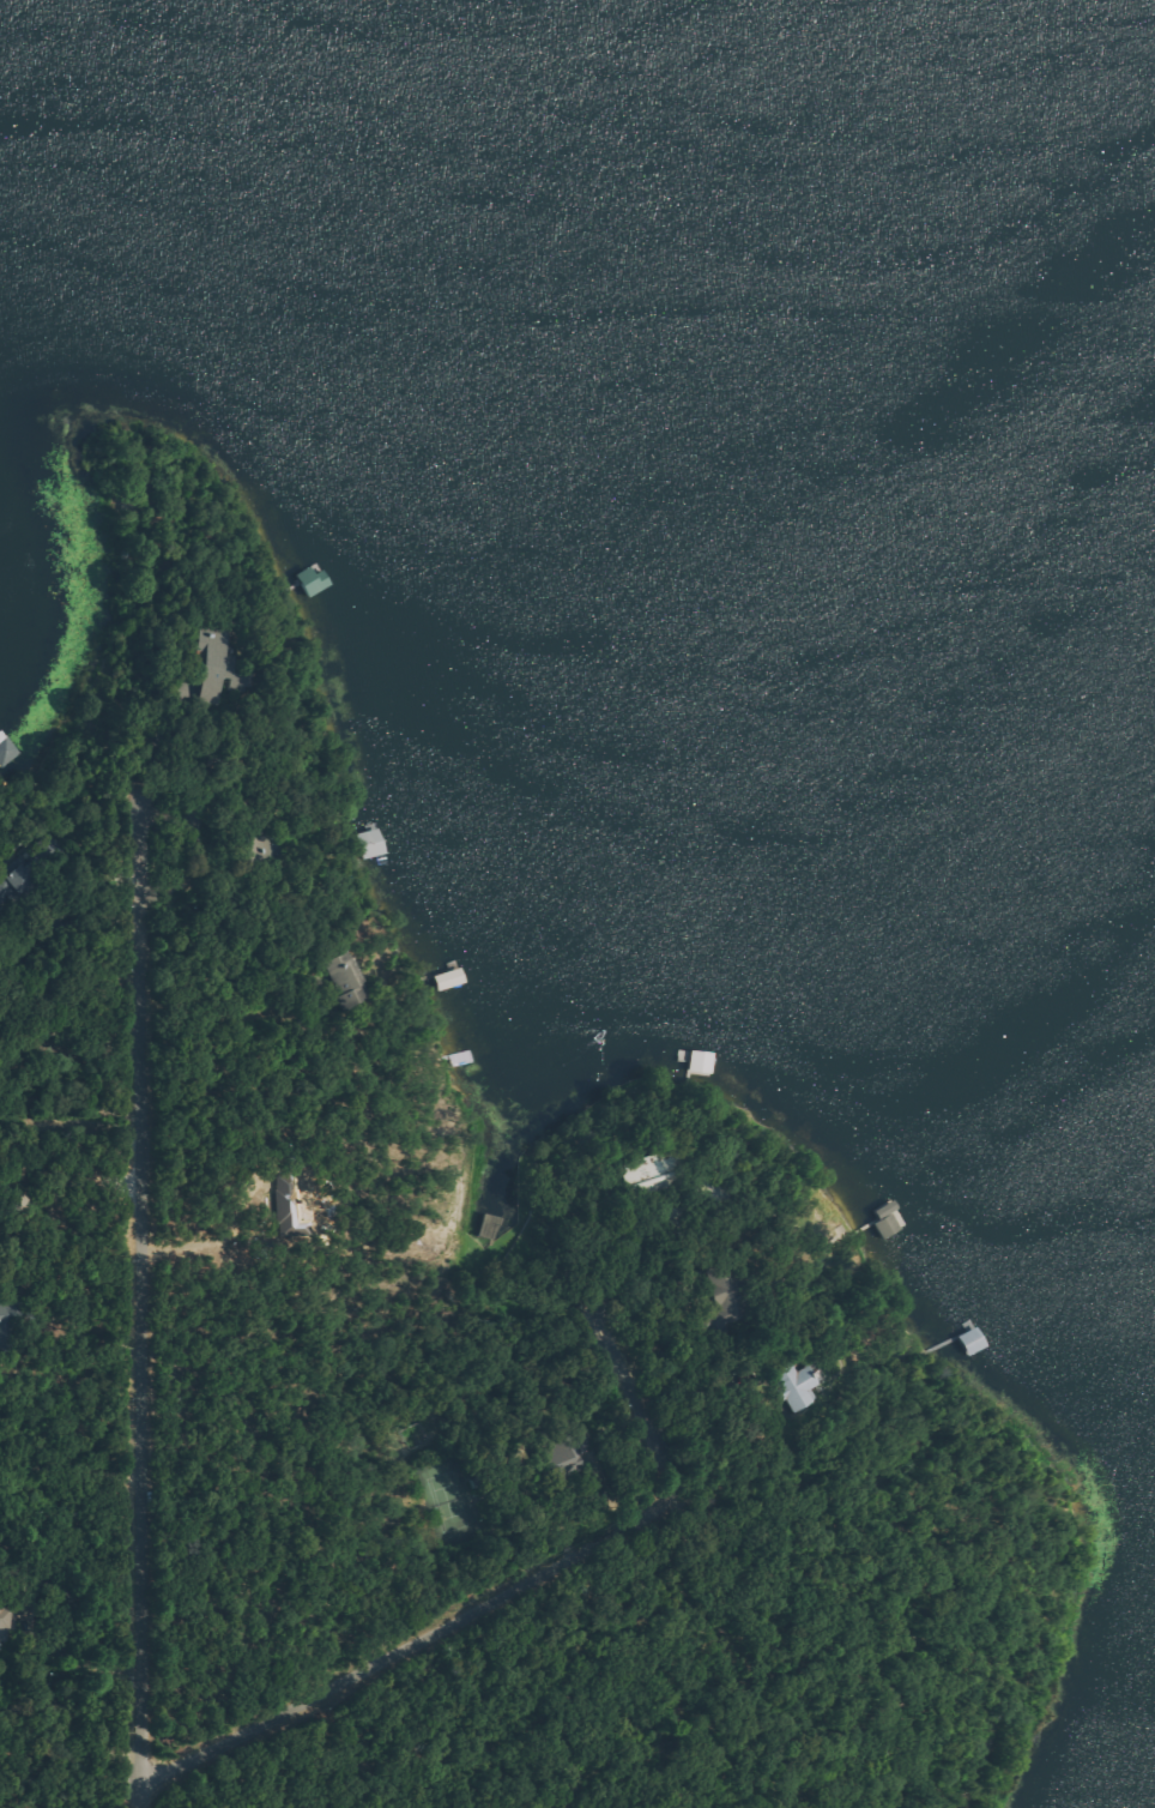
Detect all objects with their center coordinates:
building: (214, 659)
building: (349, 977)
building: (647, 1170)
building: (726, 1290)
road: (143, 1302)
building: (7, 1330)
building: (797, 1385)
road: (522, 1577)
building: (5, 1623)

